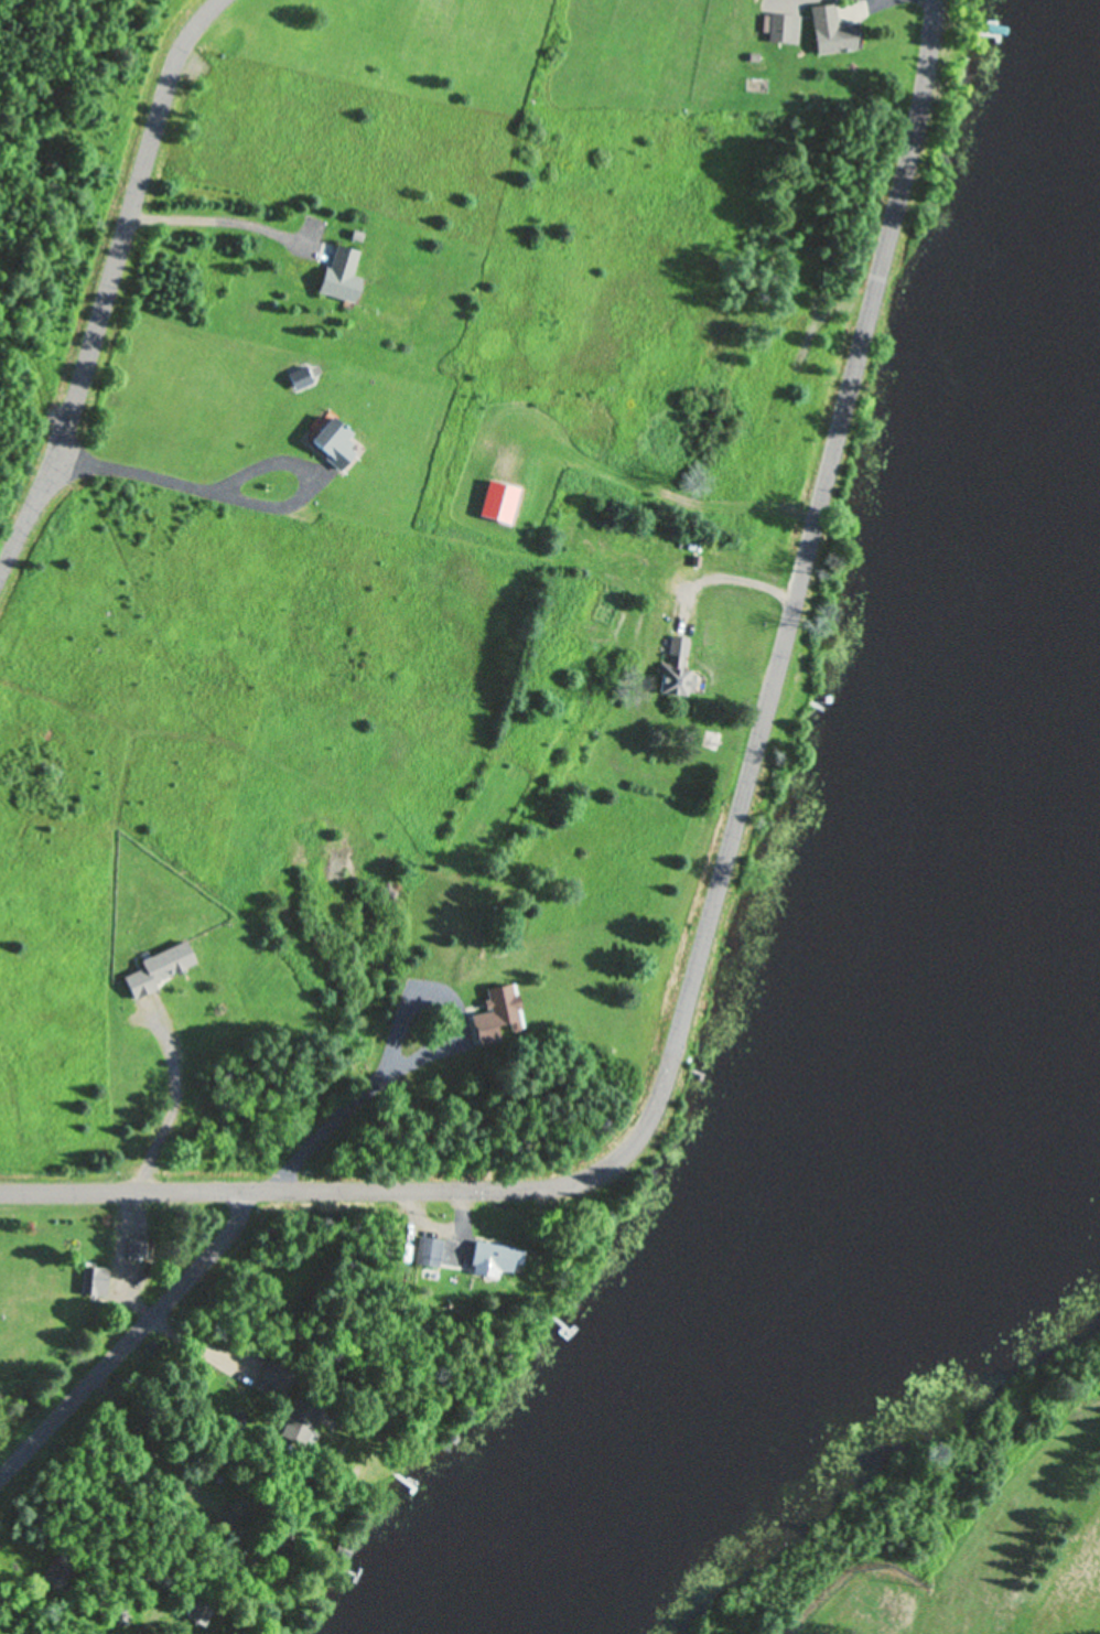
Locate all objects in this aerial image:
building: (780, 31)
building: (829, 33)
building: (339, 278)
road: (109, 286)
building: (331, 442)
building: (497, 502)
road: (797, 581)
building: (722, 644)
building: (673, 669)
building: (709, 741)
building: (157, 970)
building: (495, 1015)
road: (316, 1186)
river: (846, 1206)
building: (134, 1251)
building: (427, 1254)
building: (484, 1261)
building: (91, 1282)
road: (132, 1336)
building: (273, 1379)
building: (301, 1415)
park: (986, 1542)
building: (117, 1622)

